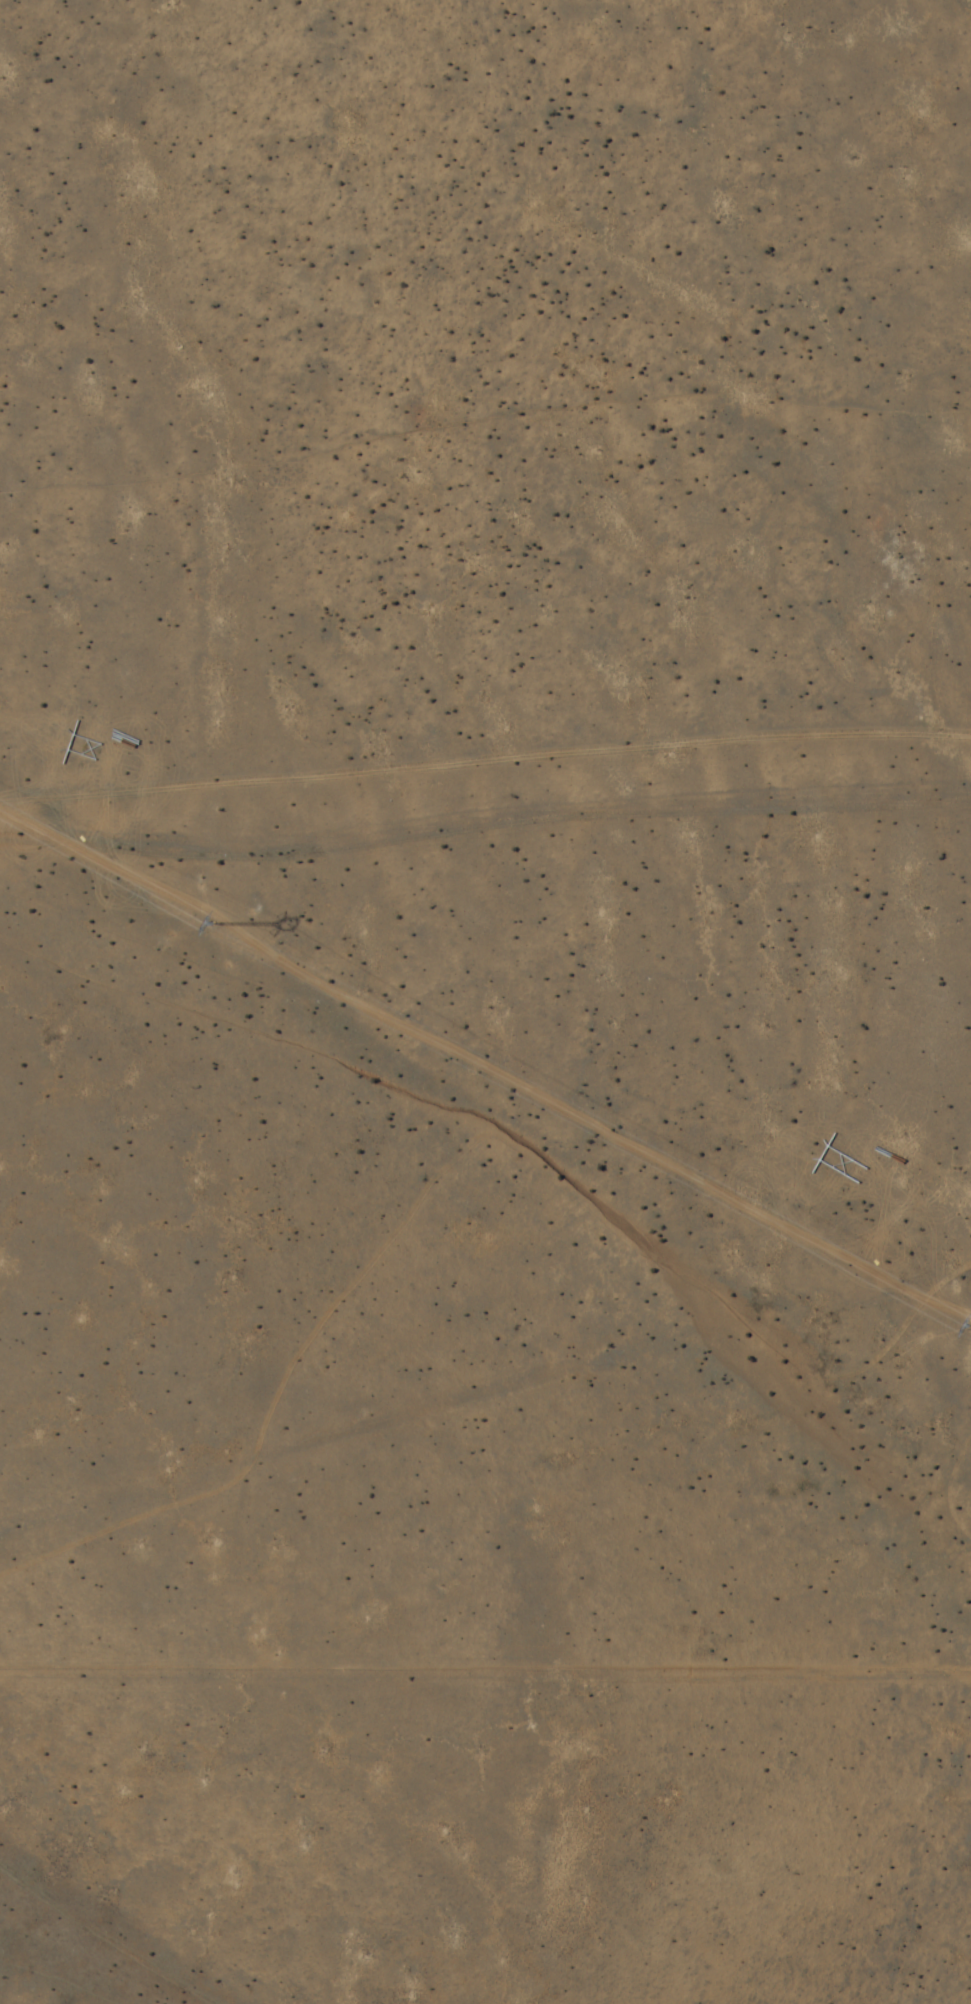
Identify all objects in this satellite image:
road: (485, 837)
power tower: (210, 924)
power tower: (967, 1325)

